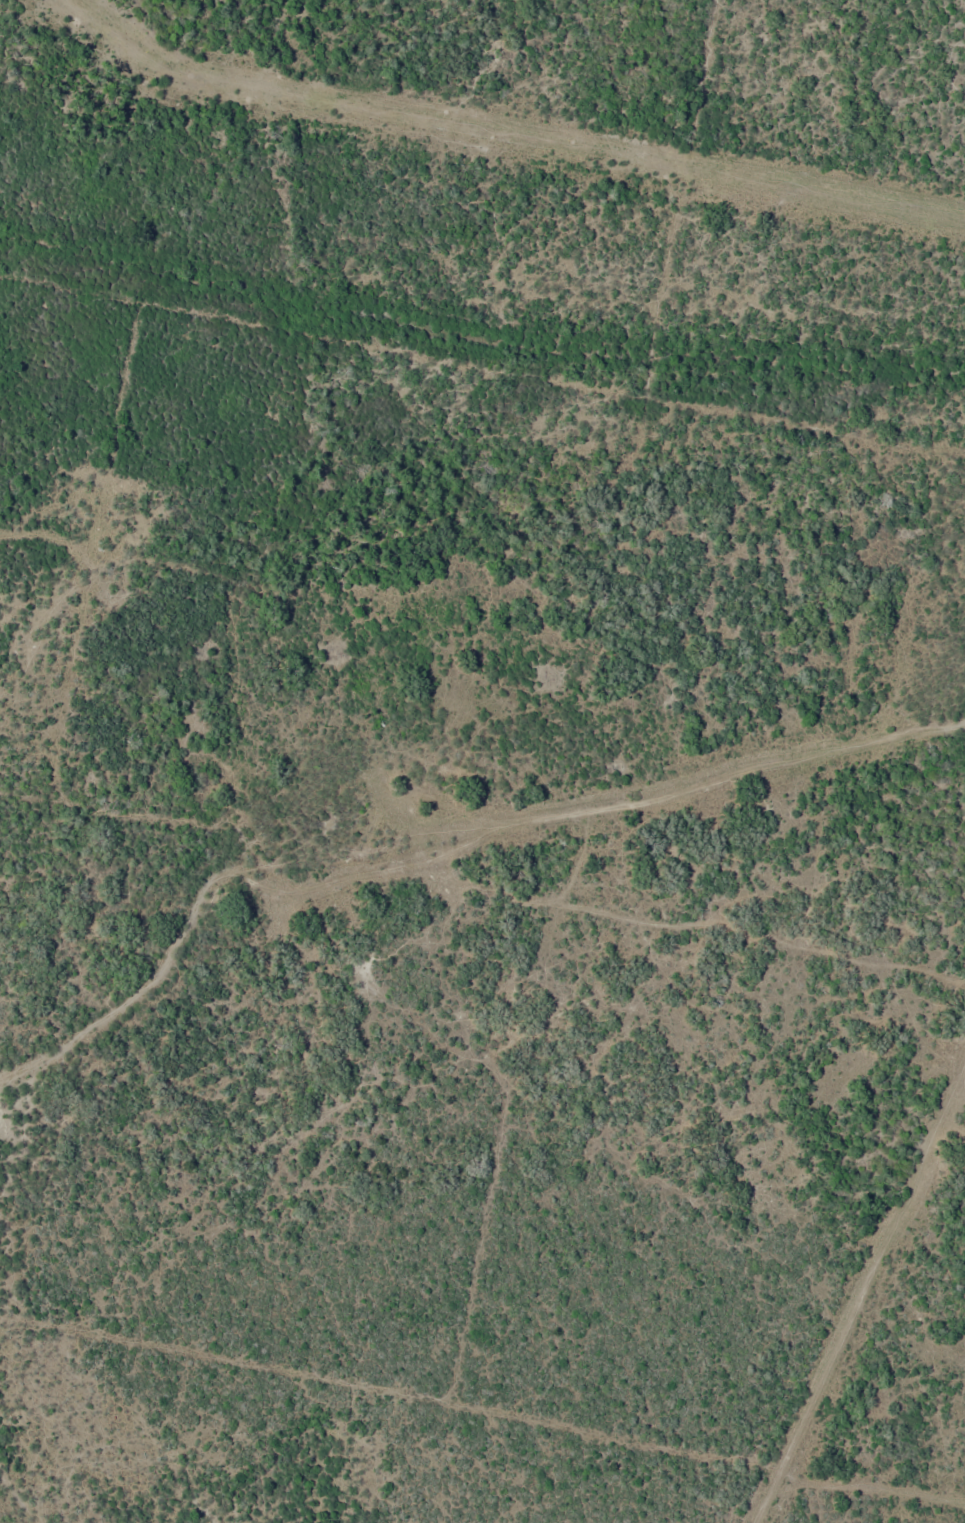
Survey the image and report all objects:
road: (874, 1319)

